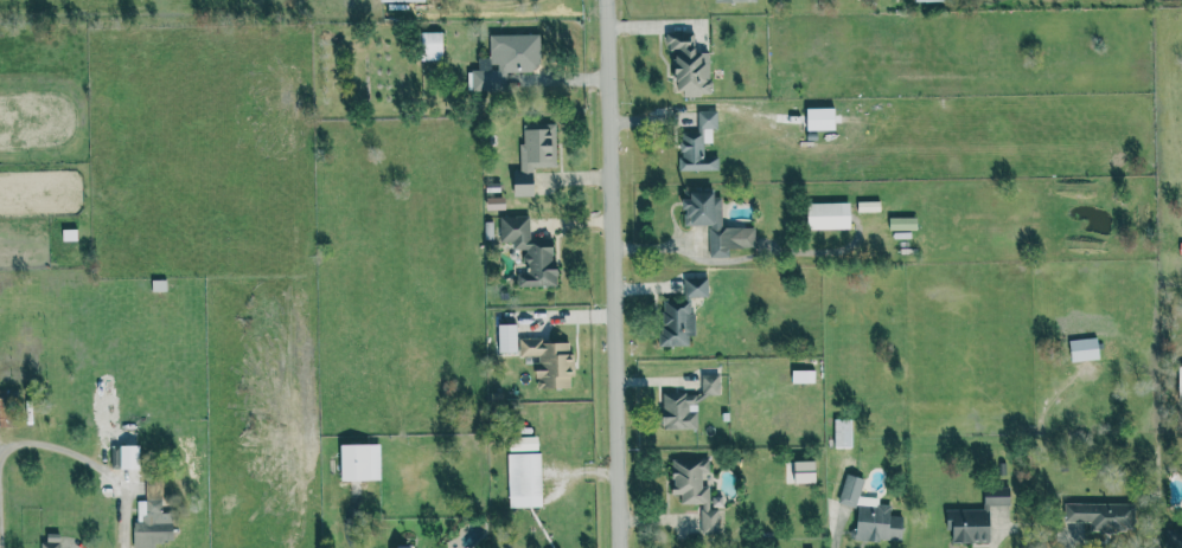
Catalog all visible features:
building: (400, 0)
building: (734, 0)
building: (928, 0)
building: (430, 45)
building: (507, 59)
building: (690, 66)
building: (820, 118)
building: (699, 143)
building: (534, 155)
building: (869, 206)
building: (829, 214)
building: (903, 223)
building: (716, 224)
building: (530, 251)
road: (613, 273)
building: (682, 312)
building: (506, 337)
building: (1084, 349)
building: (551, 361)
building: (803, 375)
building: (1180, 382)
building: (689, 404)
building: (2, 411)
building: (843, 432)
road: (50, 444)
building: (129, 457)
building: (359, 462)
building: (804, 471)
building: (524, 479)
building: (696, 490)
building: (997, 491)
building: (870, 512)
building: (1103, 515)
building: (151, 517)
building: (972, 521)
road: (836, 536)
building: (1174, 539)
building: (50, 540)
road: (995, 540)
road: (1071, 541)
building: (400, 547)

